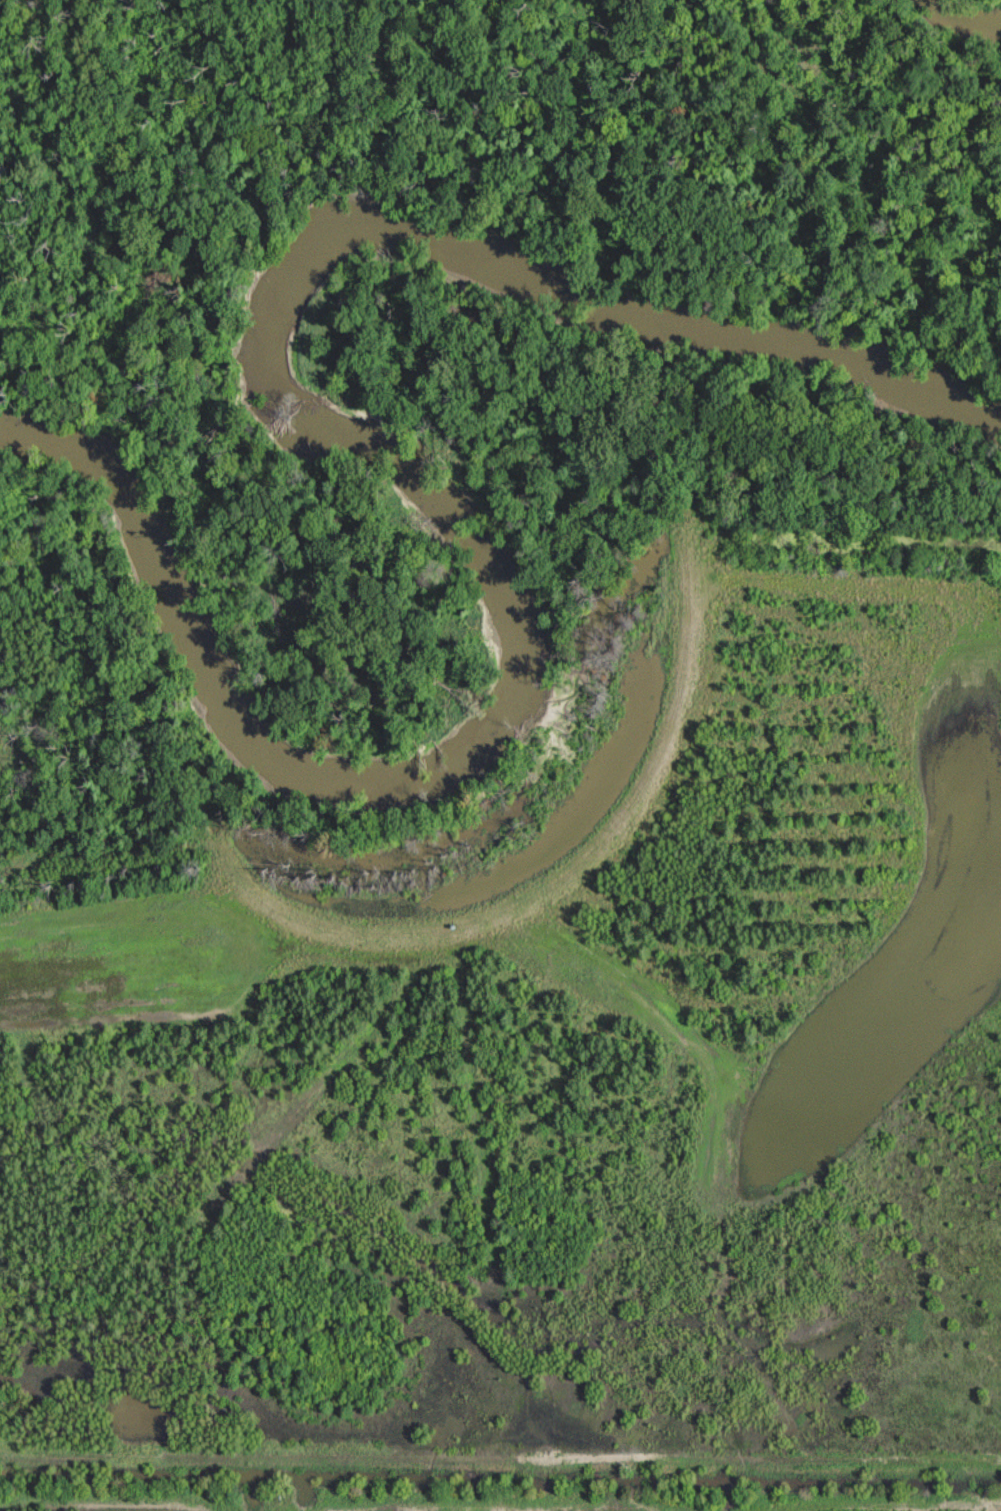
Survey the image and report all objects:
road: (133, 1501)
road: (570, 1509)
road: (893, 1509)

